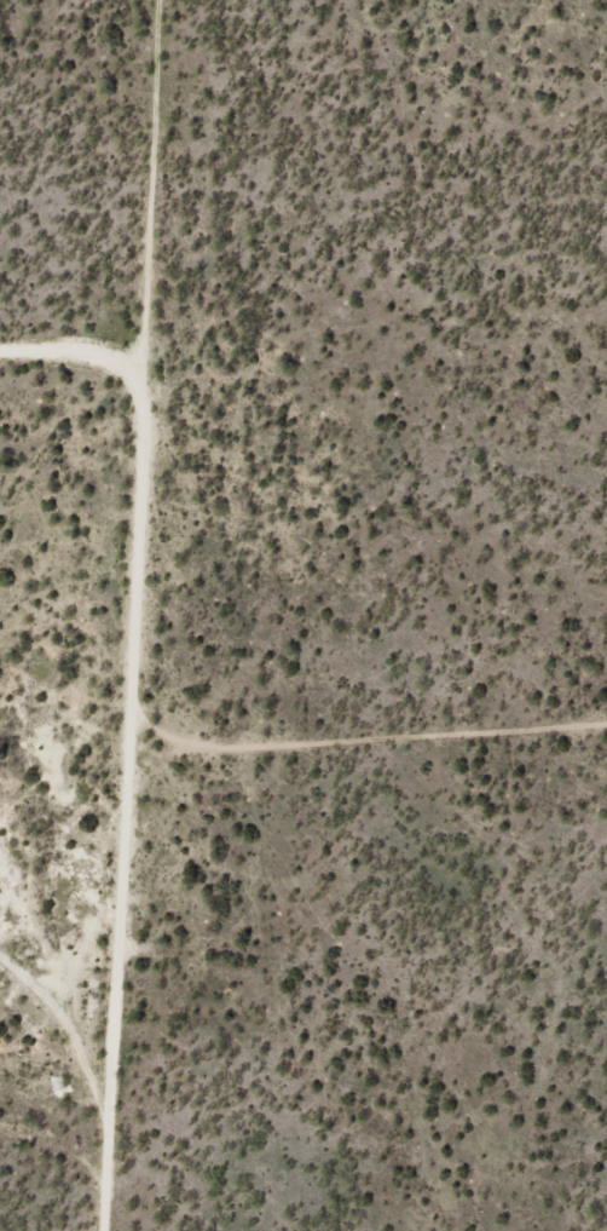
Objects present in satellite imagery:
road: (118, 615)

